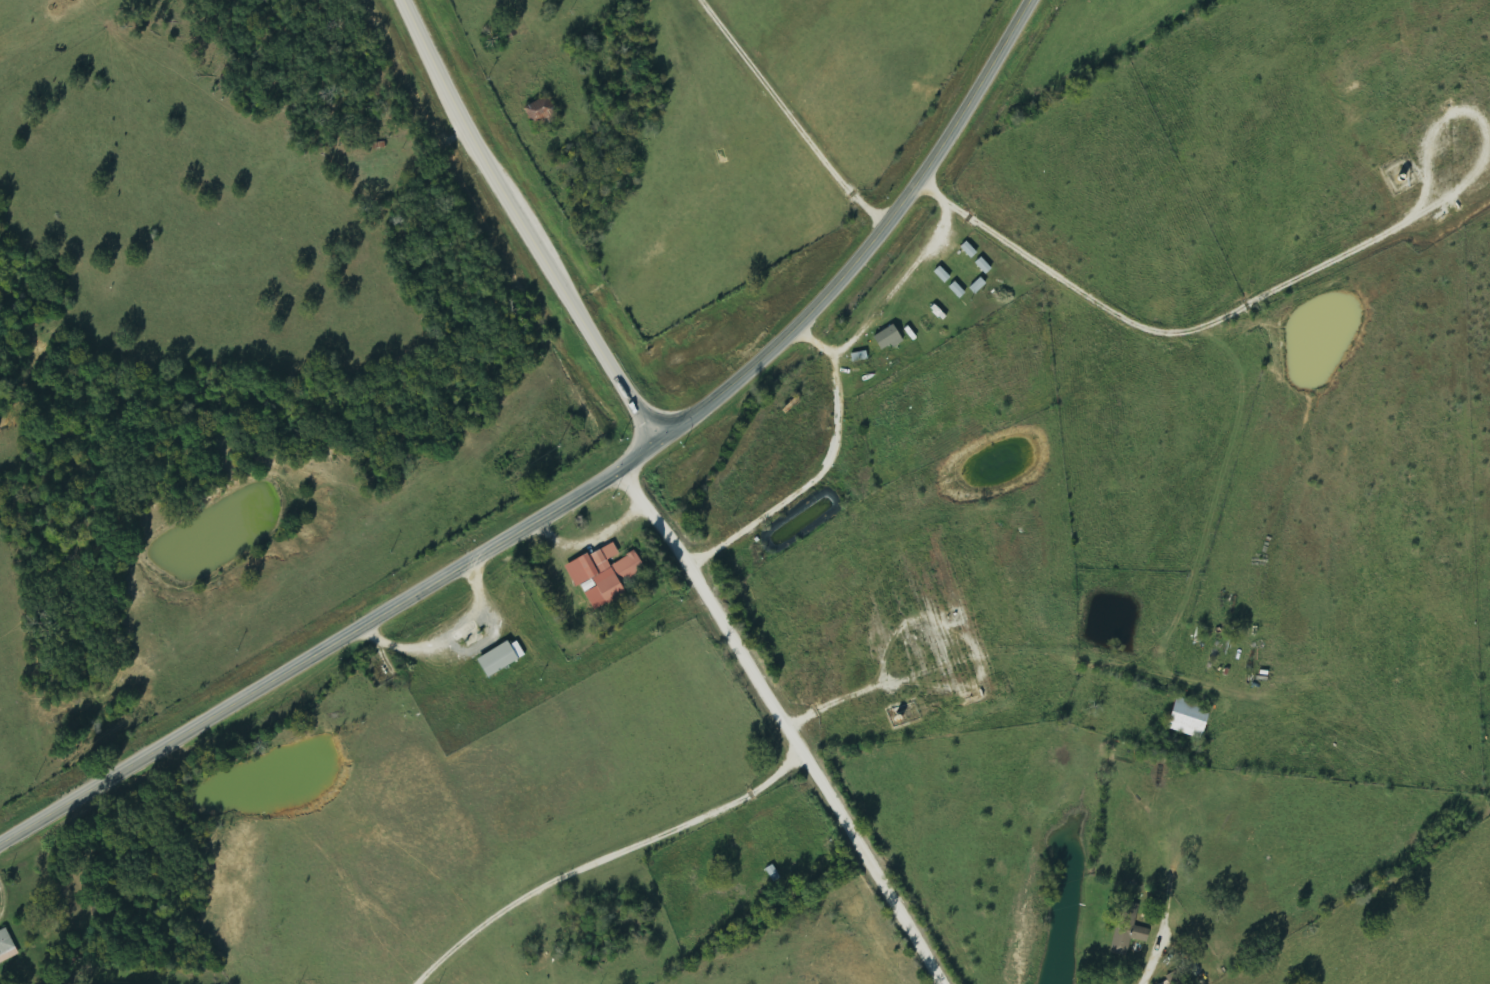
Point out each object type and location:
building: (545, 113)
road: (523, 226)
building: (967, 250)
building: (982, 266)
building: (940, 275)
building: (976, 286)
building: (955, 290)
building: (891, 338)
building: (863, 356)
road: (579, 494)
building: (608, 575)
building: (506, 658)
building: (1193, 718)
road: (783, 725)
building: (1130, 930)
building: (8, 947)

